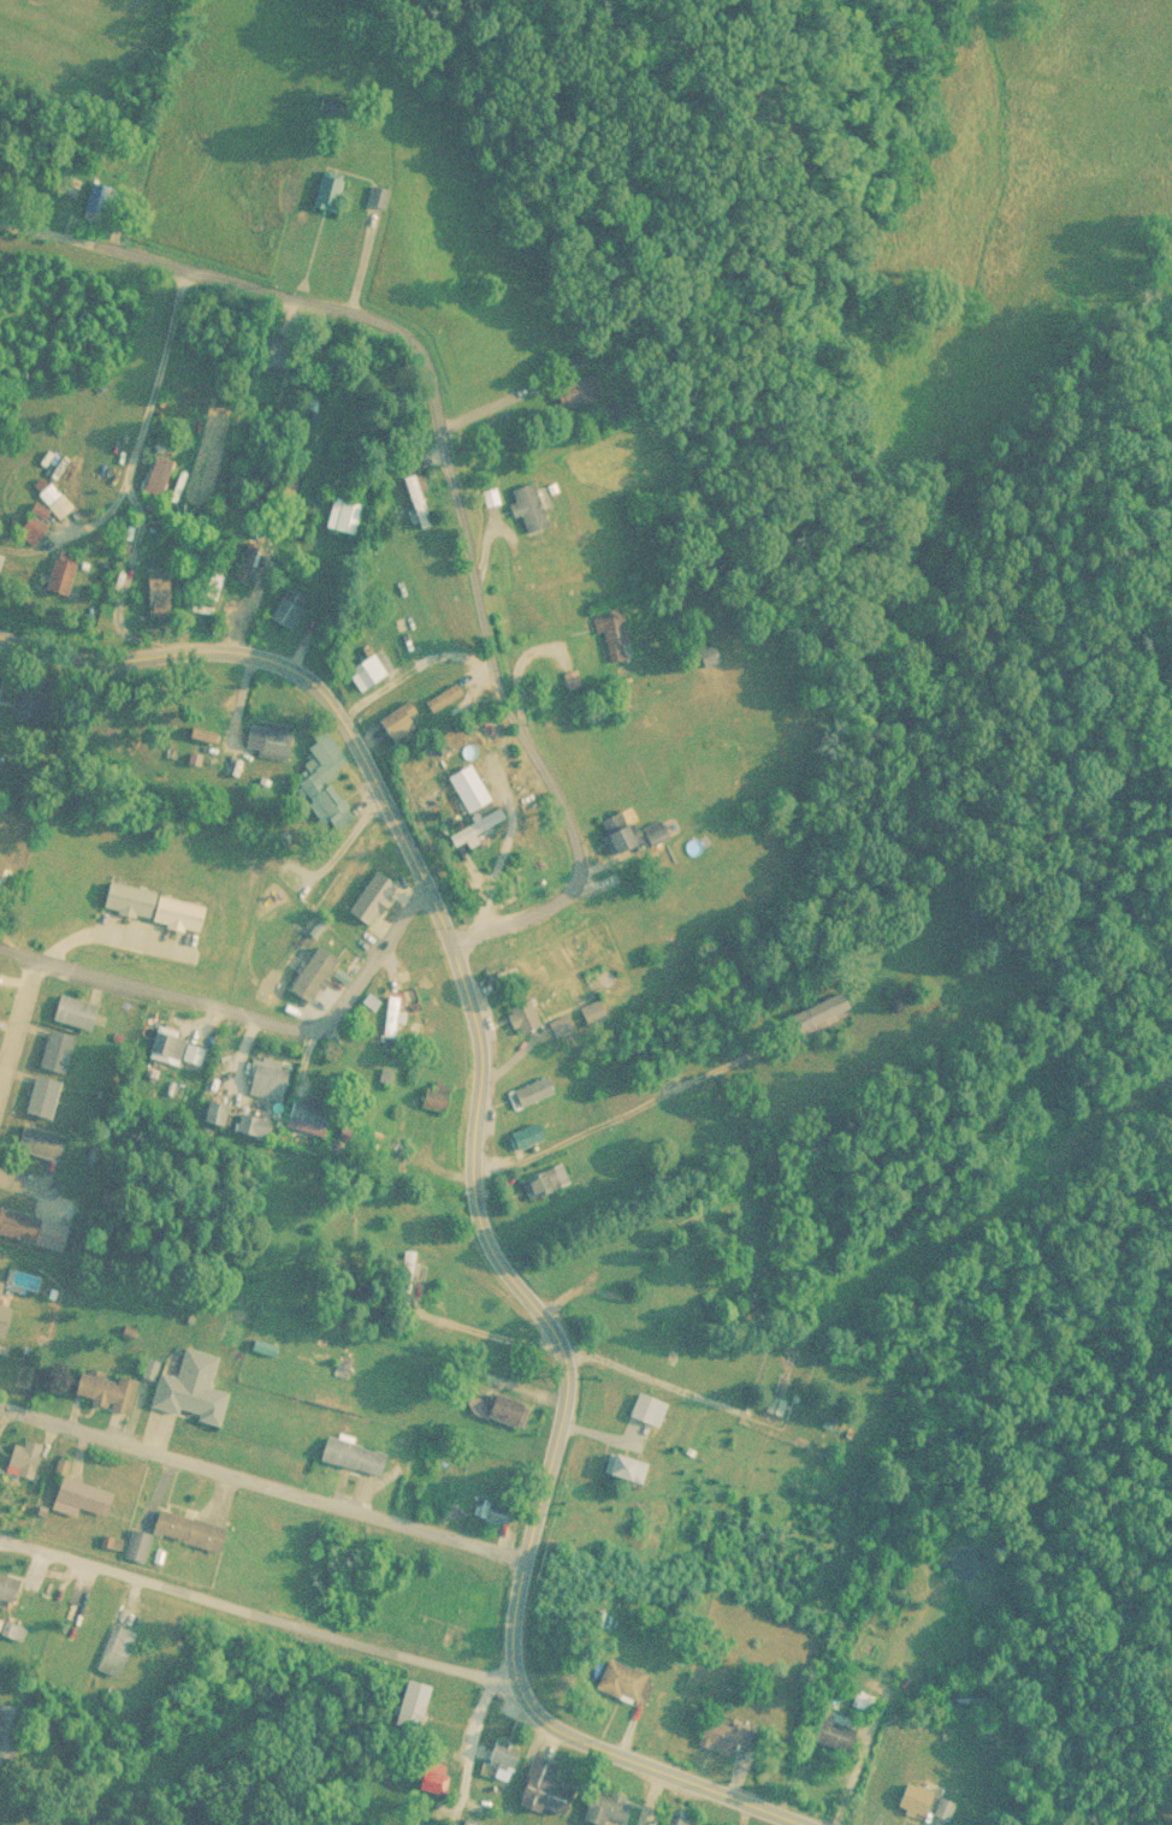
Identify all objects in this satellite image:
building: (331, 106)
building: (333, 188)
building: (383, 196)
building: (95, 201)
road: (95, 245)
building: (280, 363)
building: (570, 390)
road: (437, 422)
building: (158, 474)
building: (49, 496)
building: (419, 500)
building: (534, 508)
building: (344, 514)
building: (35, 531)
building: (65, 571)
building: (161, 592)
building: (290, 608)
building: (611, 634)
building: (372, 668)
building: (439, 695)
building: (30, 703)
building: (392, 715)
building: (274, 741)
building: (324, 781)
building: (462, 784)
building: (468, 825)
building: (650, 829)
building: (611, 830)
building: (371, 890)
building: (156, 907)
building: (308, 971)
building: (587, 1009)
building: (78, 1012)
road: (244, 1013)
building: (519, 1013)
building: (817, 1013)
road: (17, 1019)
building: (387, 1020)
building: (555, 1023)
road: (487, 1025)
building: (170, 1047)
building: (59, 1051)
building: (262, 1076)
building: (527, 1089)
building: (428, 1092)
building: (45, 1097)
building: (302, 1115)
building: (247, 1122)
building: (522, 1133)
building: (43, 1143)
building: (541, 1178)
road: (605, 1214)
building: (16, 1223)
building: (403, 1274)
building: (1, 1287)
building: (663, 1294)
building: (5, 1320)
building: (195, 1387)
building: (106, 1390)
building: (773, 1404)
building: (503, 1406)
building: (643, 1408)
building: (348, 1453)
building: (30, 1458)
building: (620, 1465)
road: (272, 1481)
building: (89, 1498)
building: (195, 1529)
building: (141, 1543)
building: (8, 1588)
road: (272, 1631)
building: (118, 1649)
building: (620, 1681)
building: (407, 1703)
building: (10, 1731)
building: (828, 1731)
building: (717, 1734)
building: (497, 1750)
road: (478, 1759)
road: (669, 1773)
building: (427, 1778)
building: (537, 1785)
building: (910, 1797)
building: (602, 1806)
building: (941, 1807)
building: (667, 1817)

